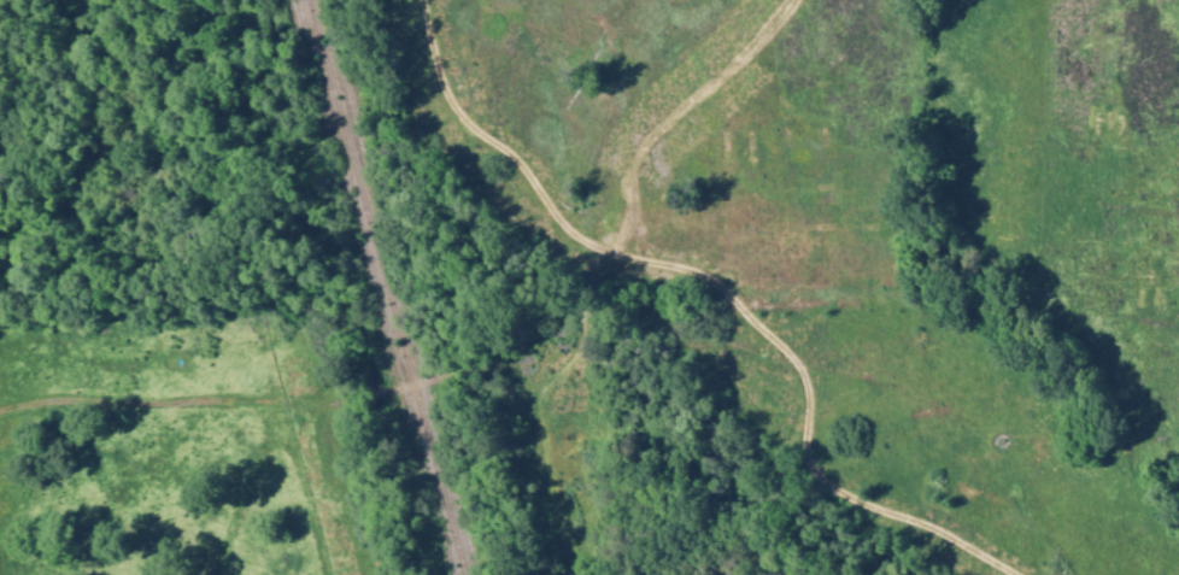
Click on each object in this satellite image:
railway: (369, 287)
railway: (382, 287)
railway: (394, 287)

